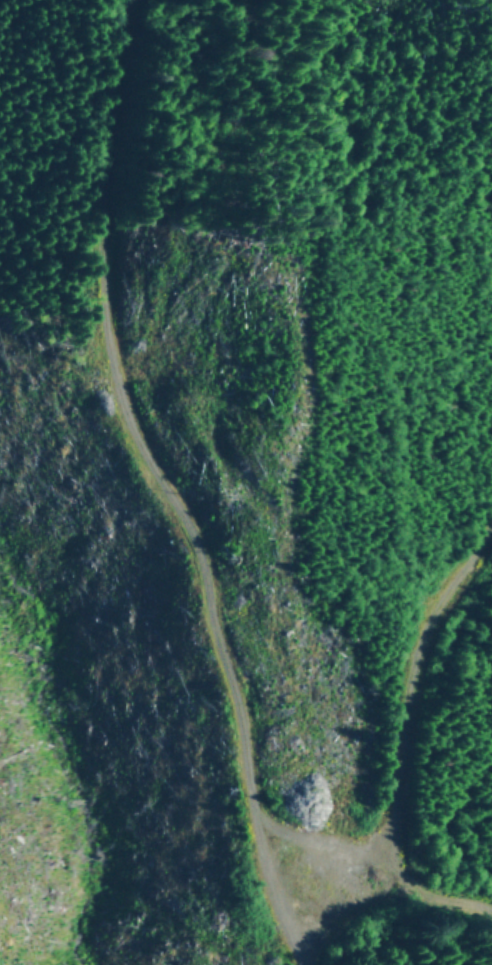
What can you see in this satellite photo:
road: (161, 473)

